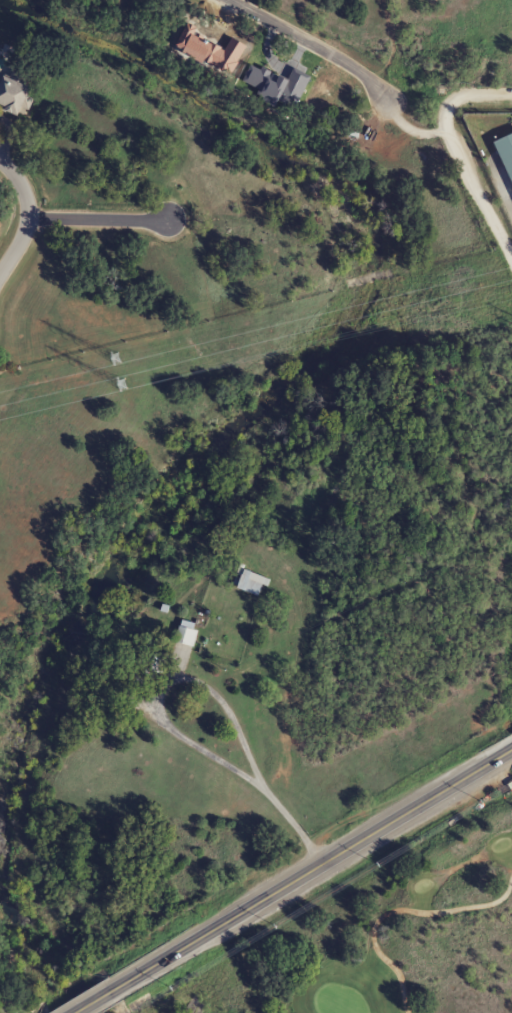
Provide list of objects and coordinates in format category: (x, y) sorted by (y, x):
road: (310, 45)
building: (13, 93)
building: (506, 151)
road: (457, 156)
road: (27, 215)
road: (98, 219)
power tower: (116, 357)
power tower: (121, 384)
building: (252, 583)
building: (186, 633)
building: (147, 663)
road: (294, 881)
park: (402, 929)
park: (419, 939)

